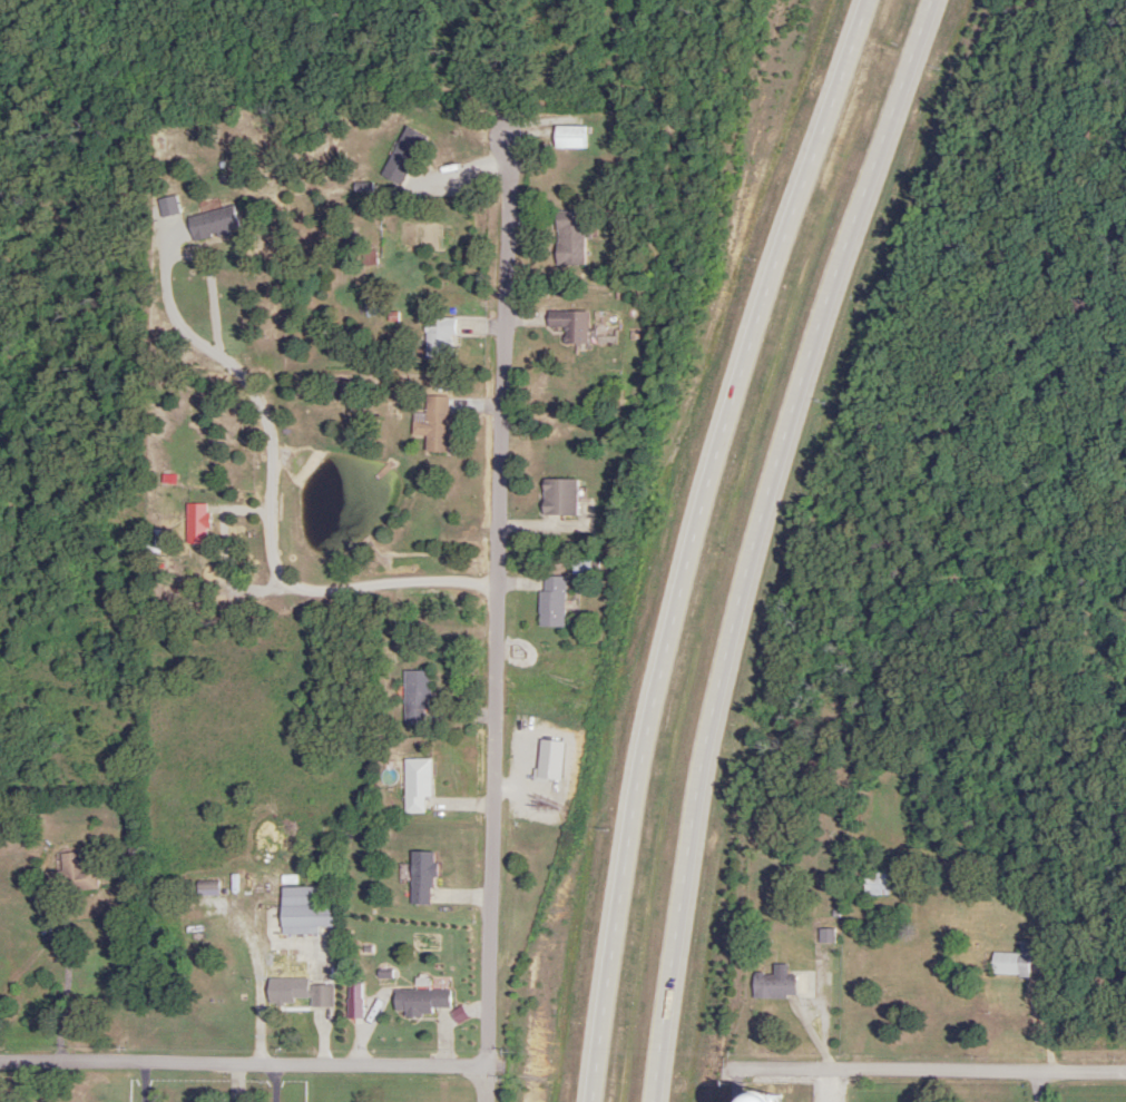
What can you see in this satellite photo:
building: (564, 136)
building: (400, 158)
building: (167, 206)
building: (212, 224)
building: (565, 238)
building: (565, 324)
building: (434, 337)
building: (431, 424)
building: (556, 496)
road: (272, 501)
building: (195, 522)
road: (694, 542)
road: (758, 542)
road: (499, 601)
building: (548, 601)
building: (414, 697)
building: (415, 786)
building: (71, 874)
building: (420, 878)
building: (873, 884)
building: (302, 912)
building: (1010, 962)
building: (770, 986)
building: (298, 988)
road: (863, 992)
building: (419, 1002)
road: (1036, 1010)
road: (244, 1067)
road: (931, 1070)
road: (18, 1082)
road: (280, 1085)
road: (489, 1086)
road: (854, 1086)
road: (1041, 1086)
road: (736, 1089)

